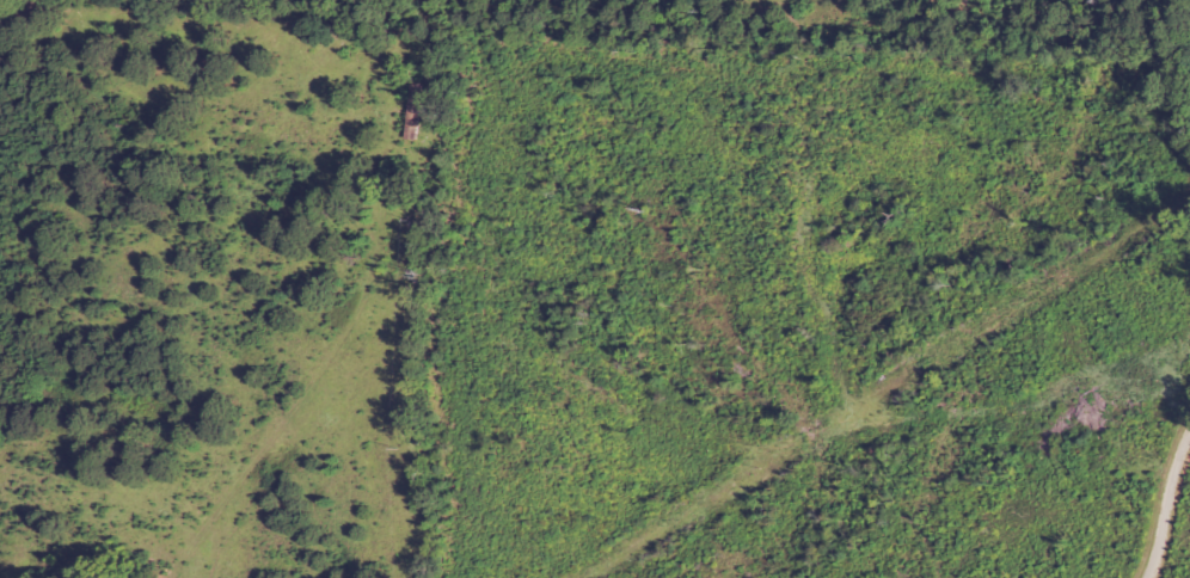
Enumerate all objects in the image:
road: (1160, 503)

